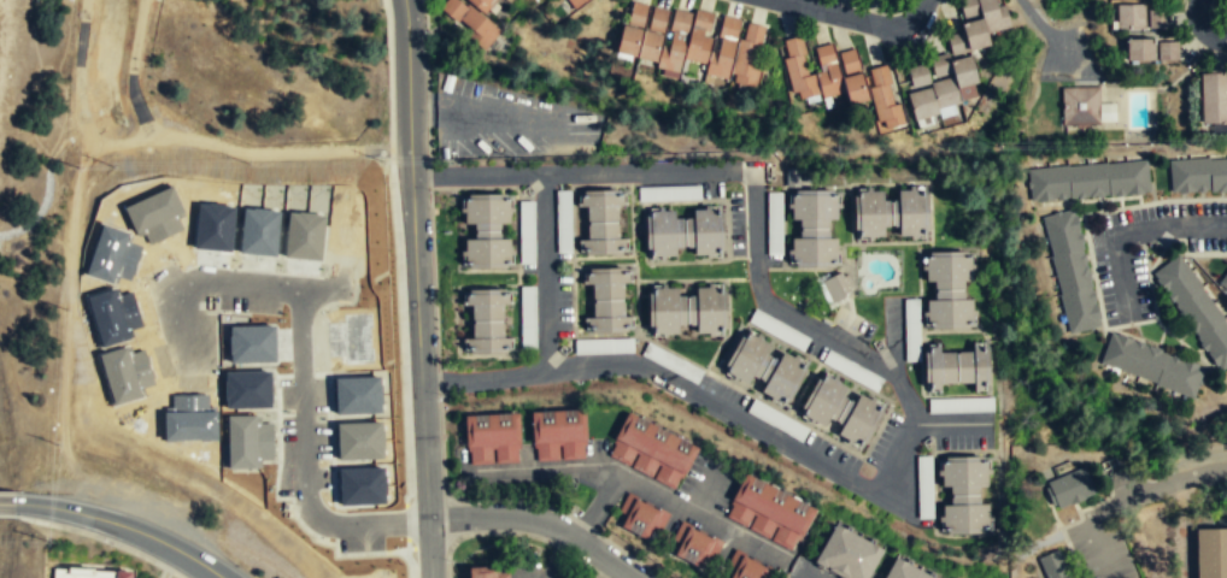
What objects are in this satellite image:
building: (576, 4)
building: (479, 5)
building: (636, 14)
building: (1129, 17)
road: (858, 19)
building: (1156, 19)
building: (469, 22)
building: (975, 24)
road: (1202, 26)
road: (382, 30)
building: (695, 43)
building: (1140, 51)
building: (1168, 52)
building: (824, 72)
building: (939, 85)
building: (1214, 99)
building: (882, 100)
building: (1085, 107)
road: (479, 118)
parking lot: (506, 123)
road: (582, 173)
building: (1197, 173)
building: (1086, 179)
building: (890, 213)
building: (603, 222)
building: (814, 229)
building: (486, 231)
road: (1135, 231)
building: (683, 232)
road: (546, 271)
building: (1070, 271)
building: (1223, 283)
road: (416, 289)
building: (838, 289)
building: (949, 290)
building: (607, 300)
building: (1196, 309)
building: (687, 311)
building: (487, 322)
building: (1150, 365)
building: (956, 367)
building: (764, 368)
building: (840, 411)
road: (951, 424)
building: (785, 426)
building: (558, 435)
building: (492, 440)
building: (651, 450)
road: (853, 479)
building: (924, 488)
road: (1156, 488)
building: (1068, 489)
road: (704, 491)
road: (651, 495)
building: (963, 495)
road: (7, 503)
building: (768, 511)
building: (640, 517)
road: (538, 520)
road: (122, 525)
road: (579, 526)
road: (94, 536)
building: (693, 547)
road: (1099, 547)
street lamp: (116, 548)
building: (1211, 554)
building: (845, 555)
building: (742, 567)
building: (1056, 568)
building: (476, 571)
building: (903, 571)
building: (88, 573)

